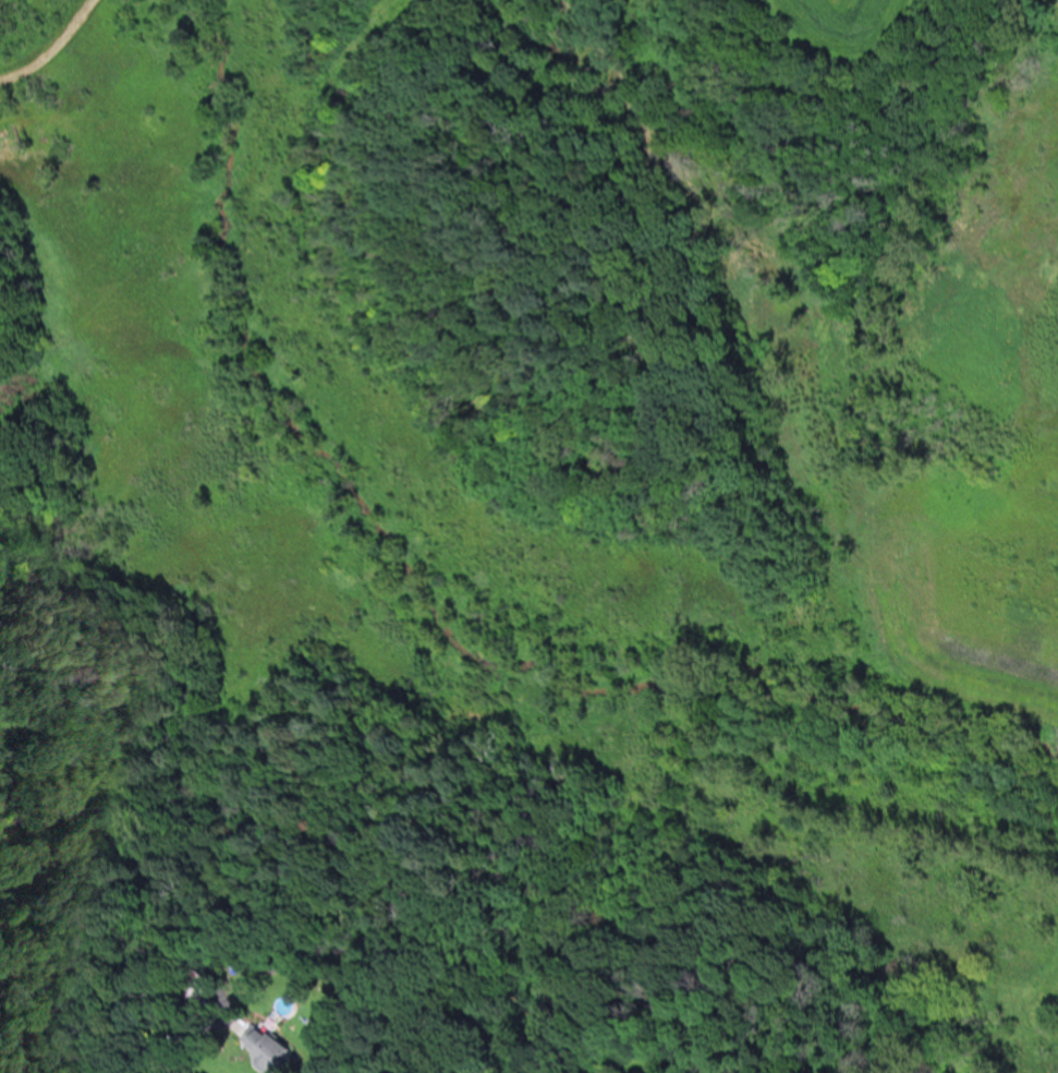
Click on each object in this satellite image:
building: (273, 1048)

